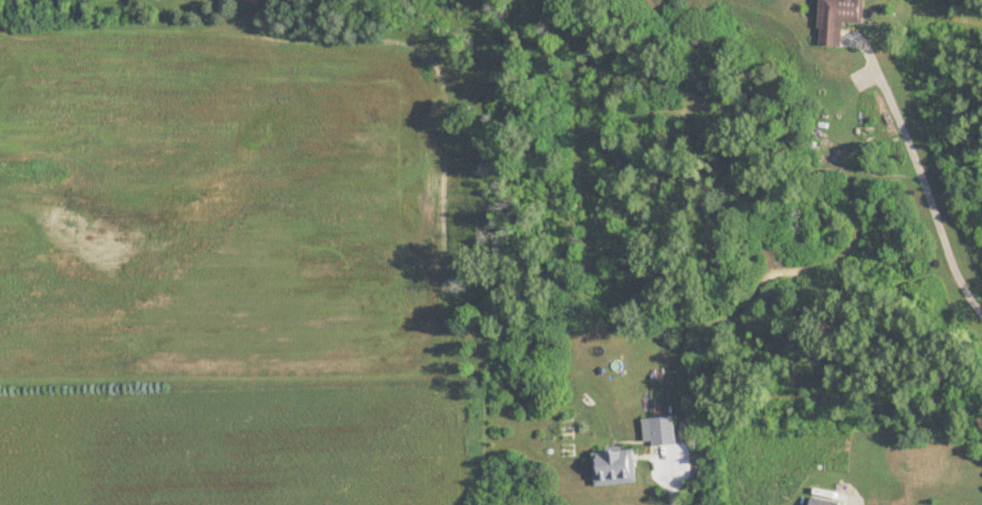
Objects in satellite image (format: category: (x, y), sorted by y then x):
building: (839, 18)
road: (928, 190)
road: (659, 245)
road: (580, 275)
building: (659, 430)
building: (615, 467)
road: (673, 481)
building: (824, 502)

